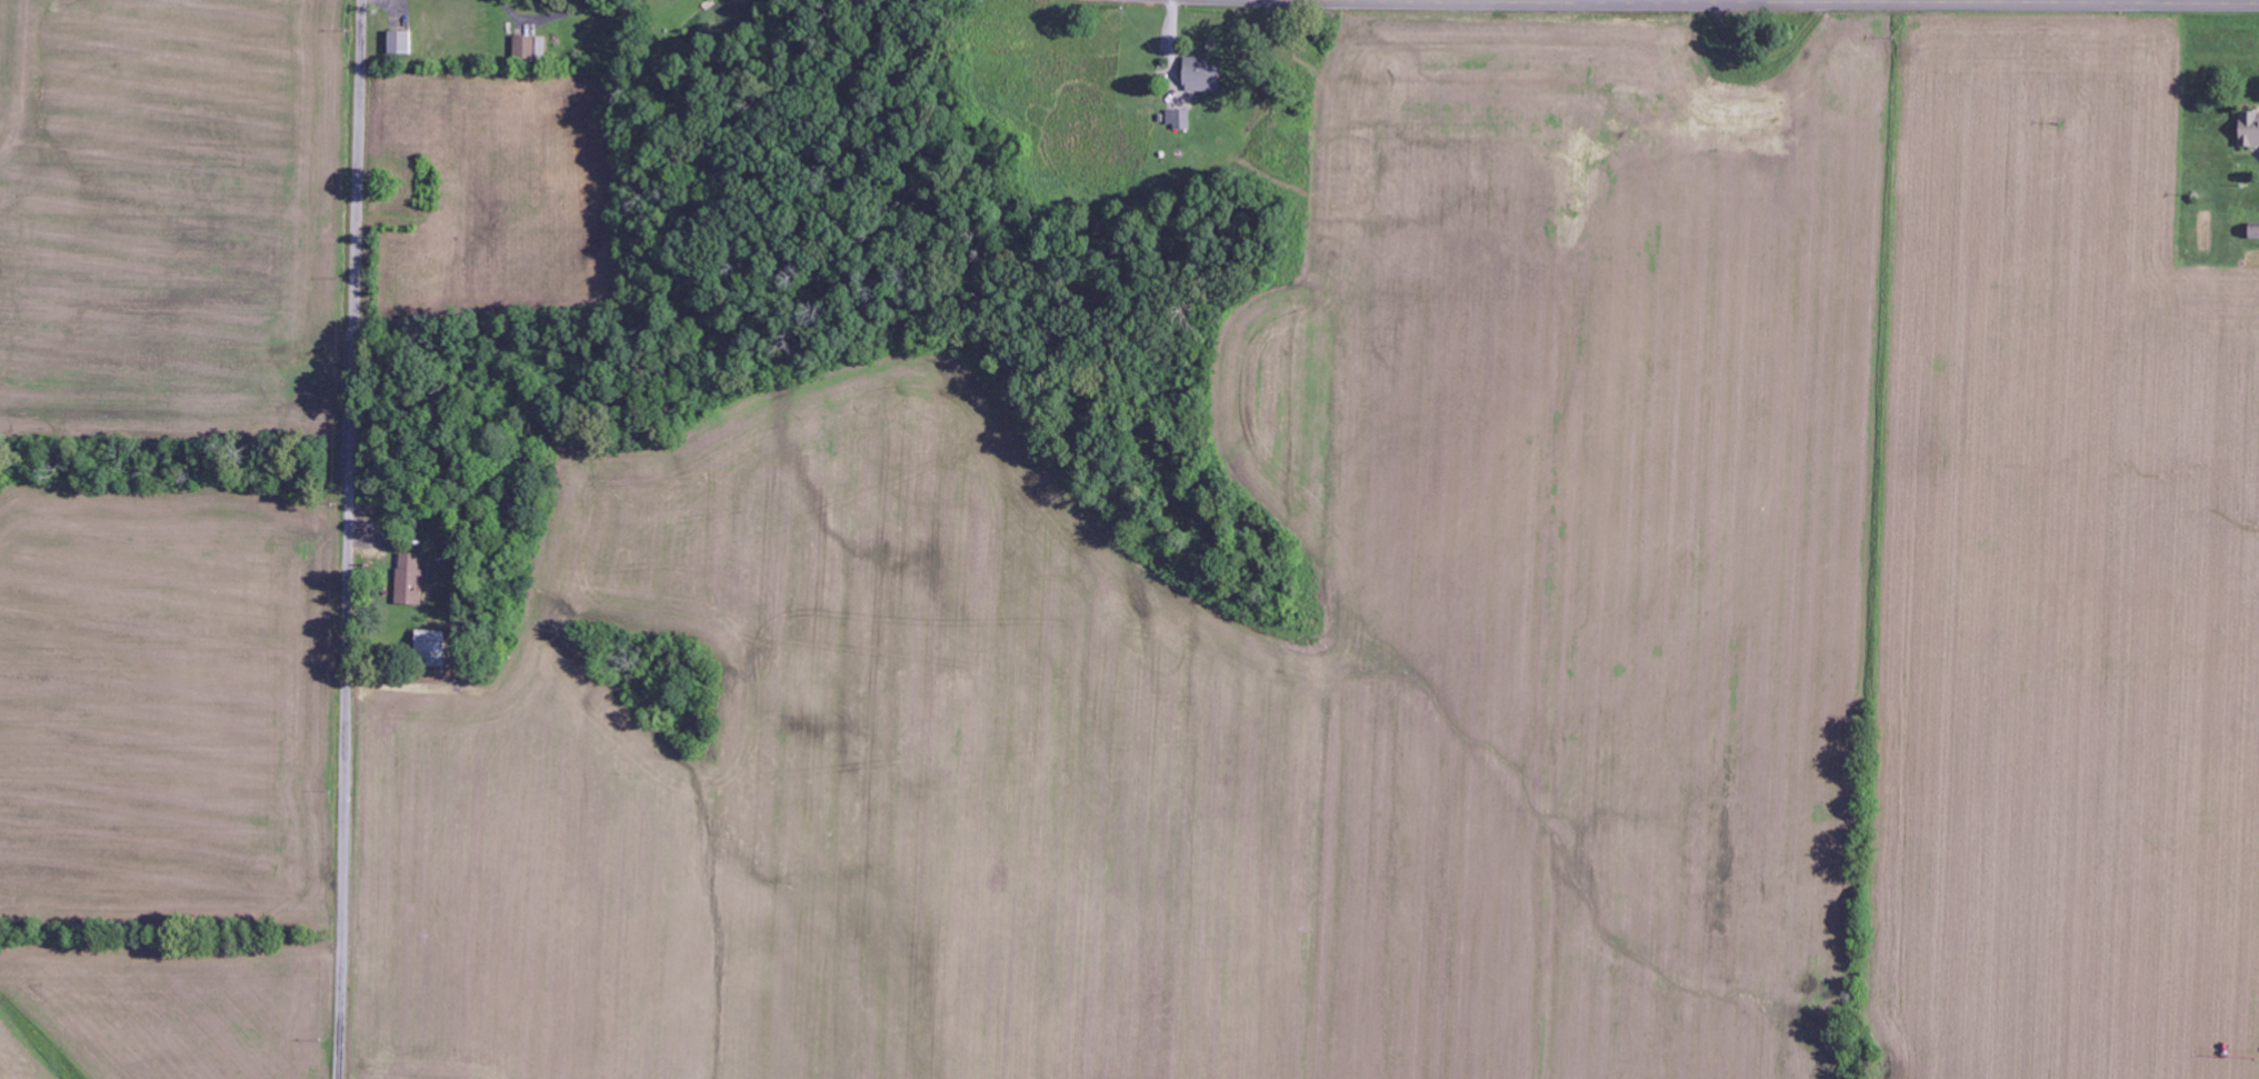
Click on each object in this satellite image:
road: (1601, 1)
road: (1801, 2)
building: (399, 43)
building: (530, 48)
building: (1202, 76)
building: (1178, 119)
building: (2249, 130)
building: (2255, 233)
road: (349, 539)
building: (410, 580)
building: (430, 648)

